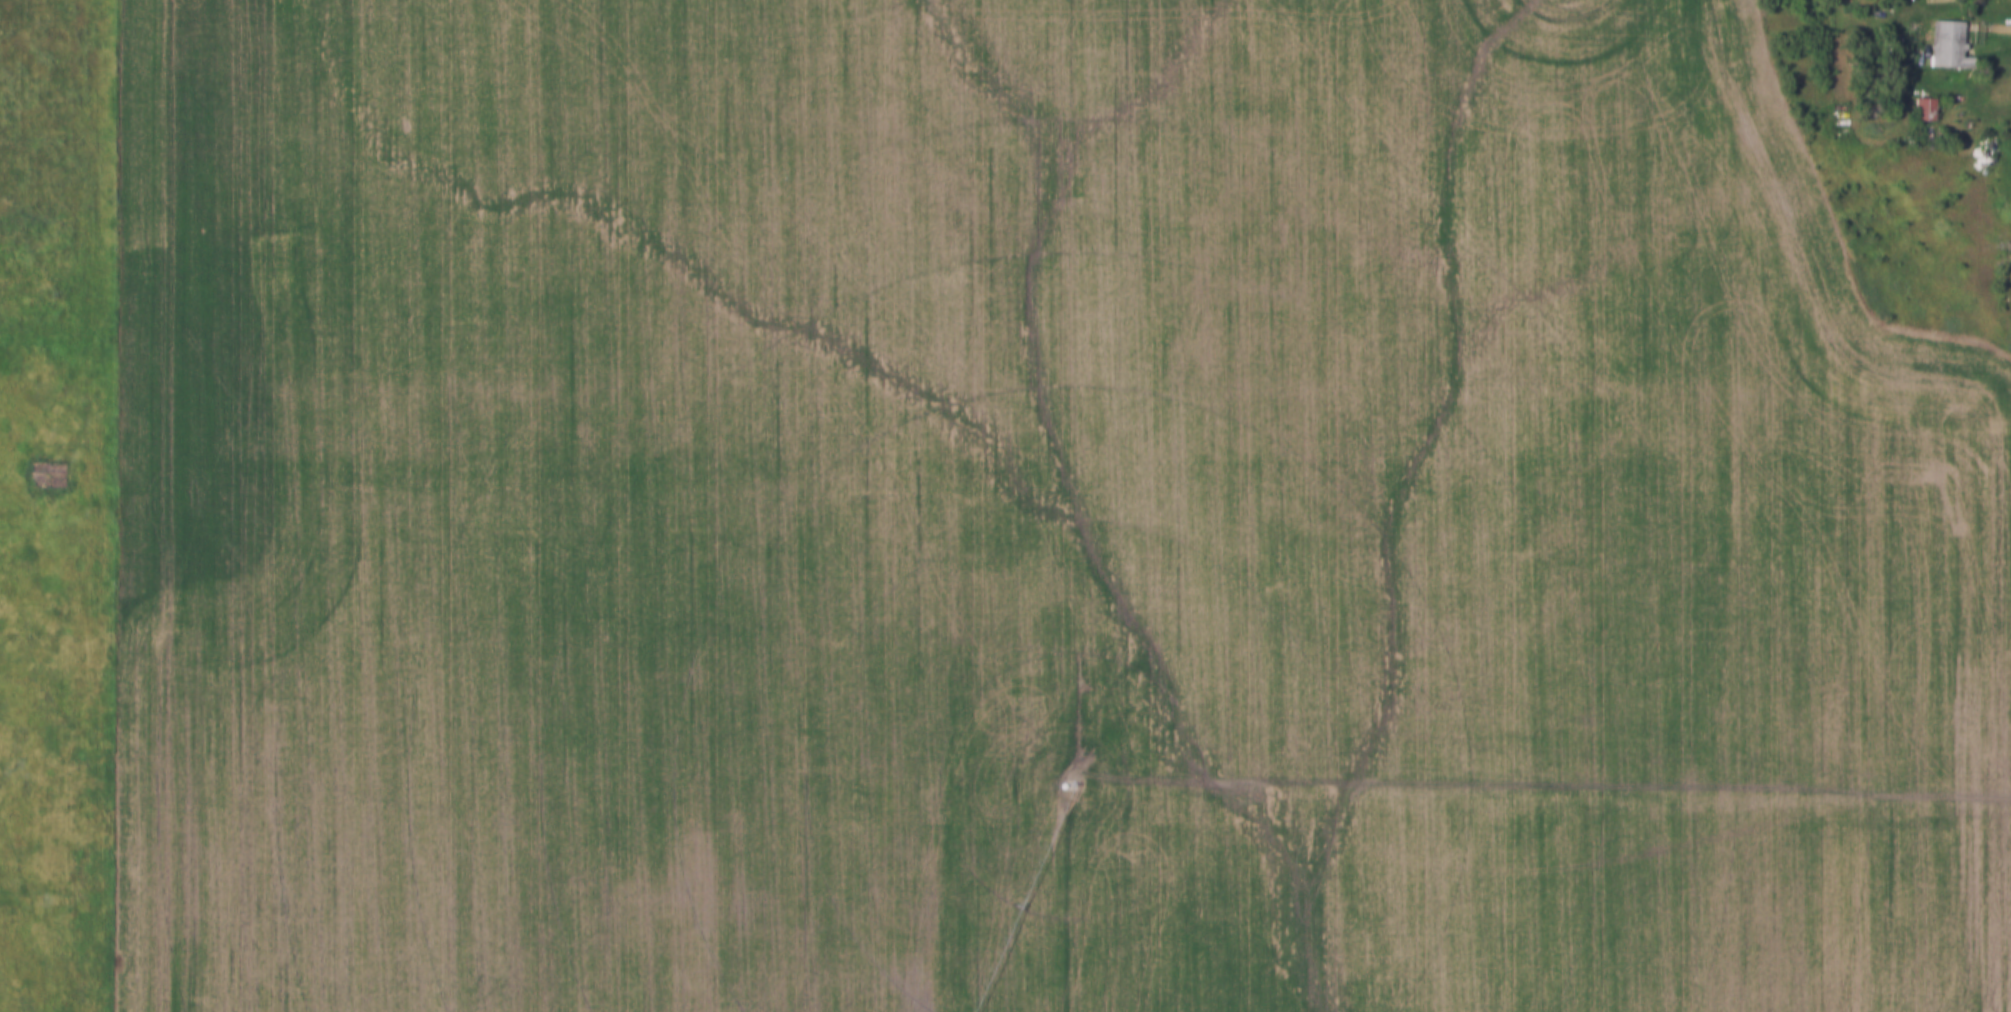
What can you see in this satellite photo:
road: (1994, 26)
building: (1946, 45)
building: (1922, 108)

